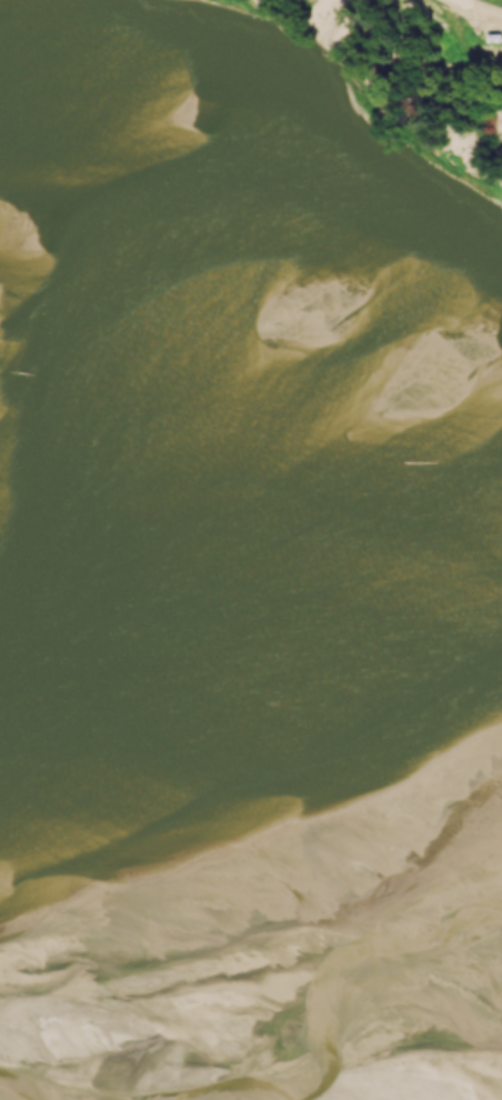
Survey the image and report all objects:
road: (480, 10)
river: (257, 791)

